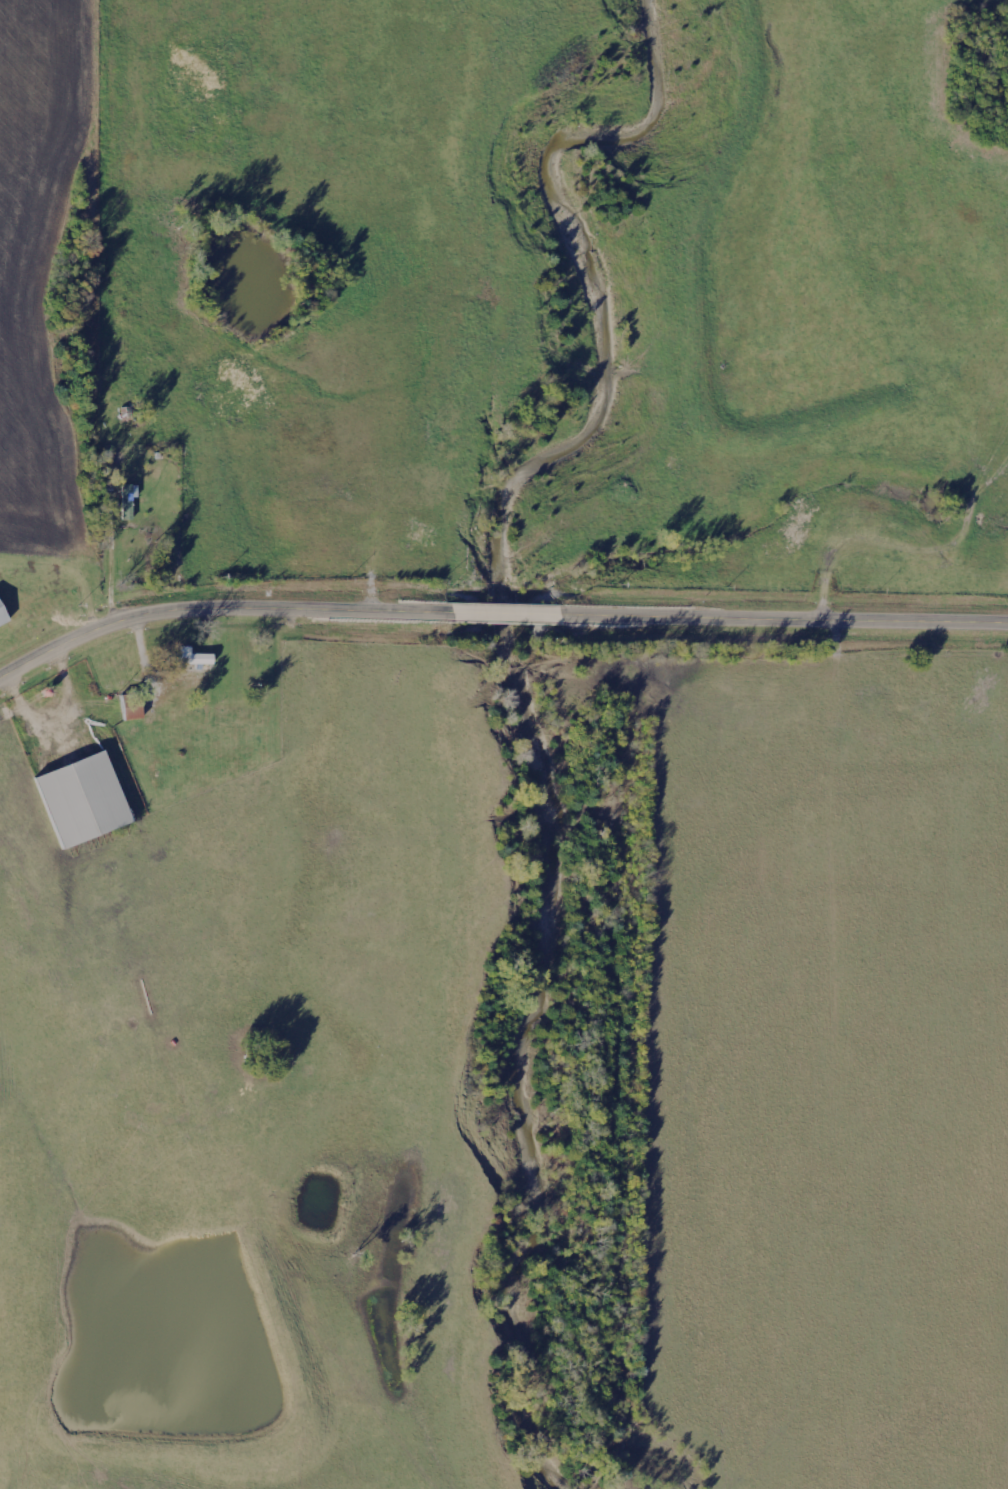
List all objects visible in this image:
park: (978, 73)
road: (496, 610)
building: (3, 616)
building: (193, 658)
building: (134, 707)
building: (85, 801)

